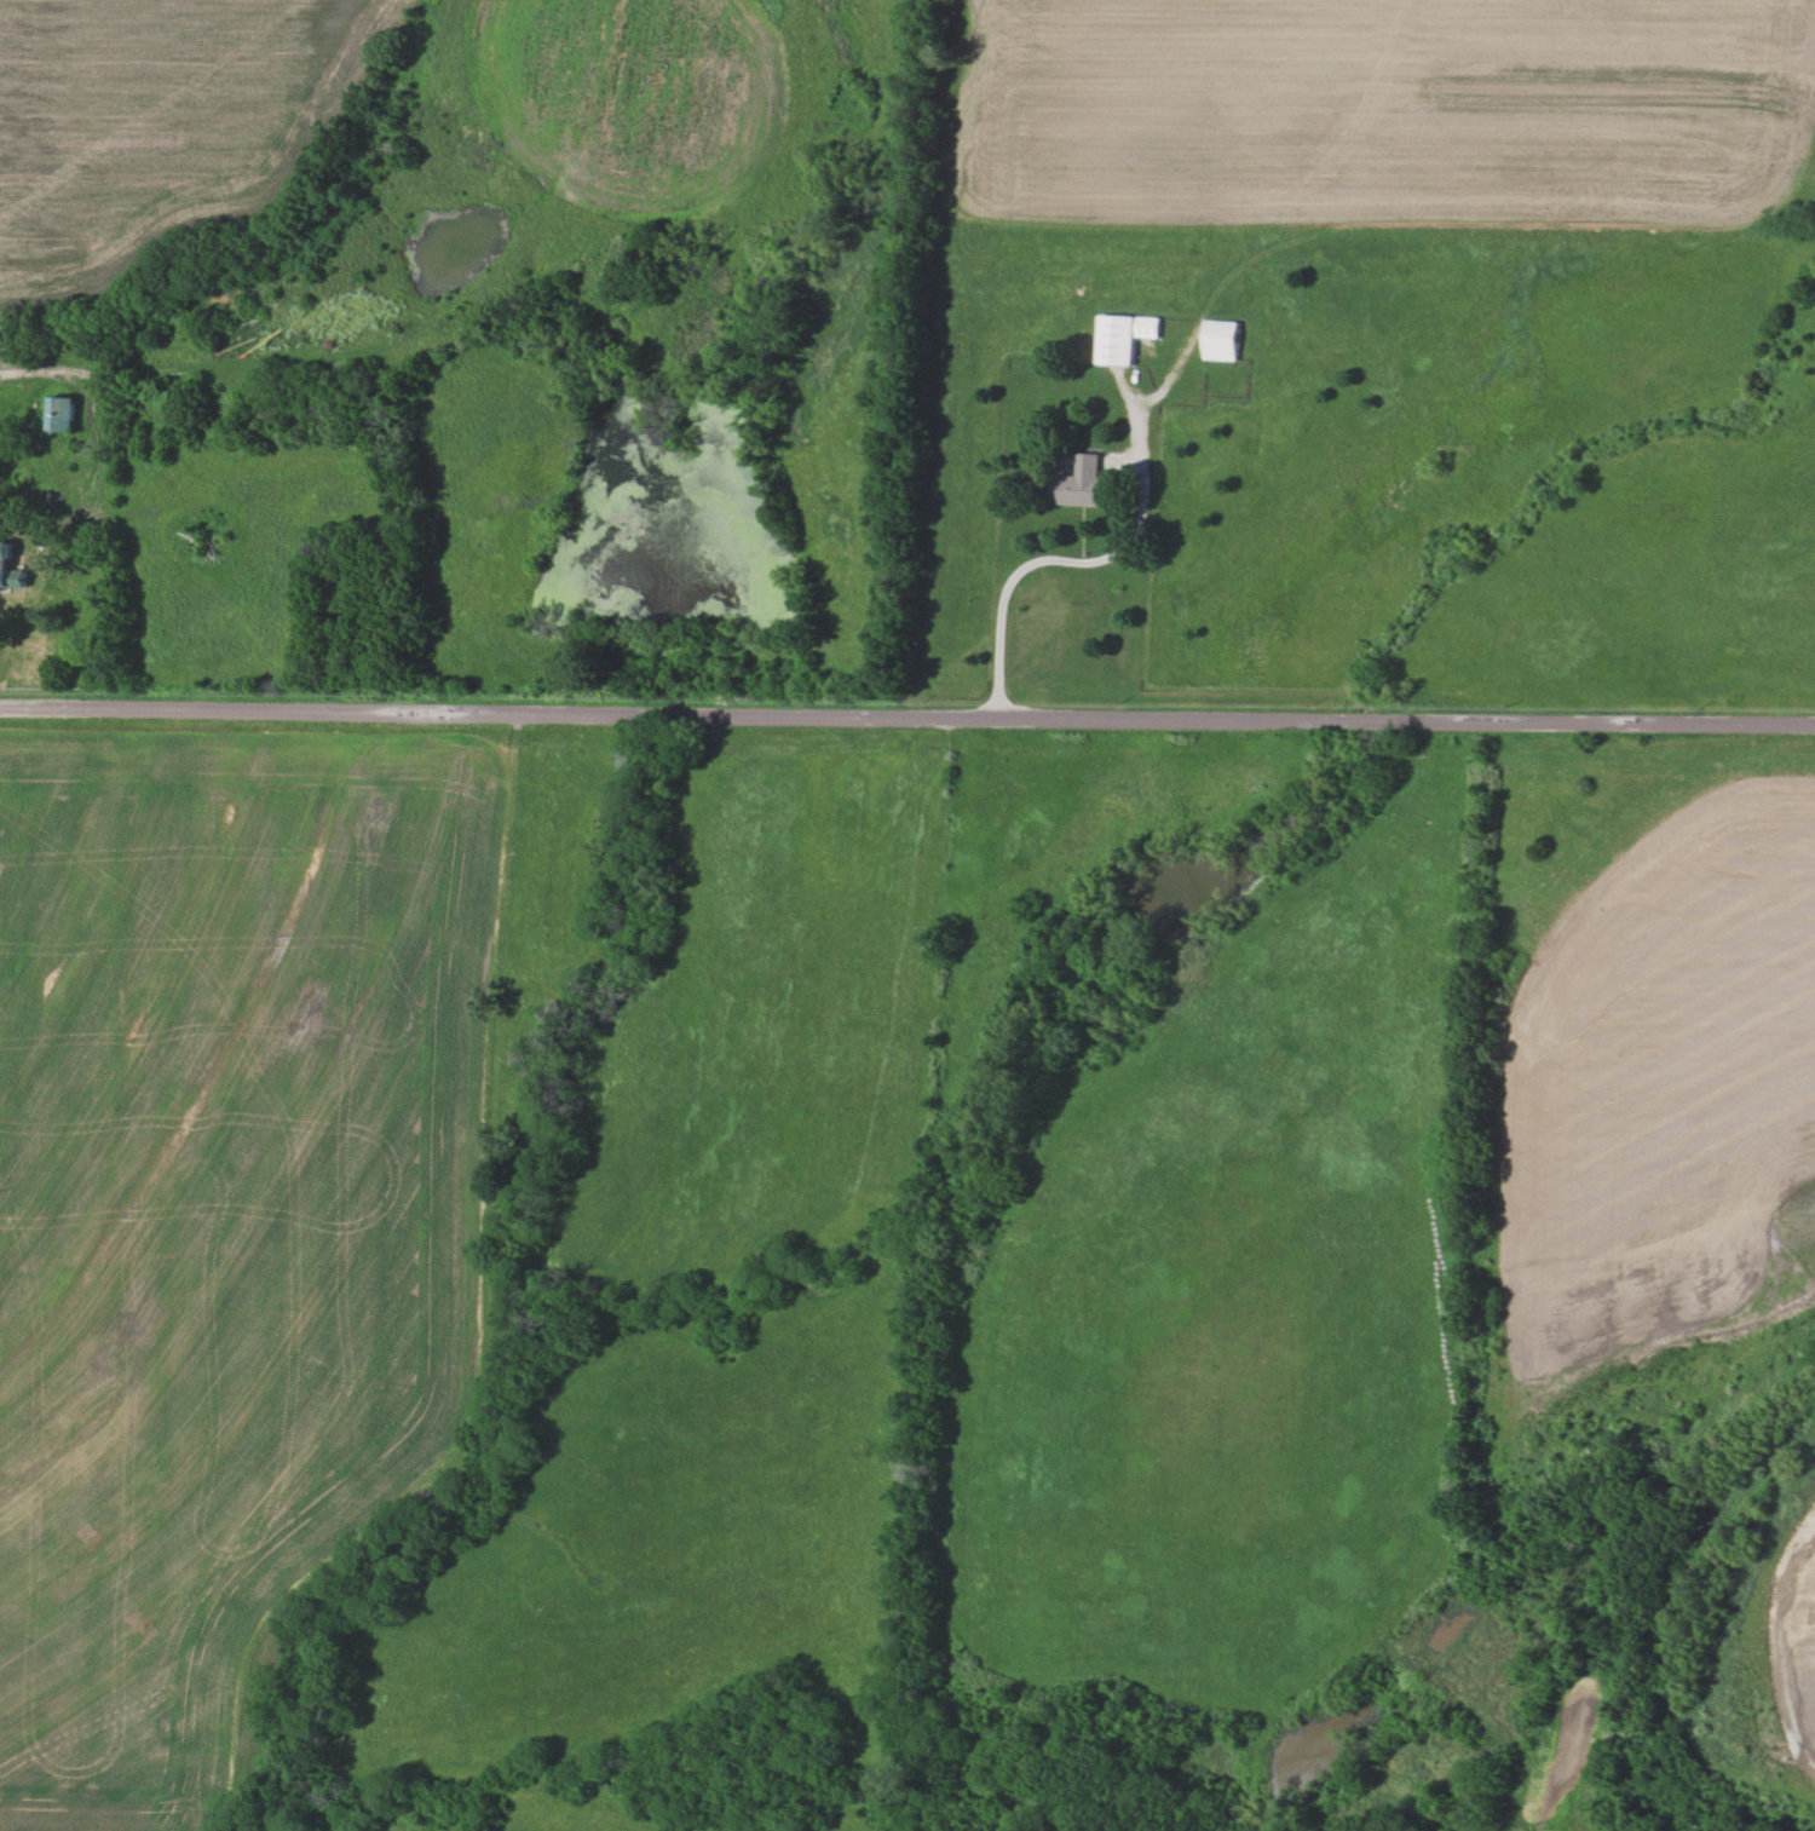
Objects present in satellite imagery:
crop: (152, 113)
road: (1395, 238)
building: (70, 330)
road: (405, 335)
building: (1124, 336)
building: (1222, 340)
silo: (0, 341)
crop: (1408, 347)
building: (62, 413)
building: (156, 442)
road: (25, 455)
road: (1119, 463)
building: (1081, 483)
building: (24, 526)
road: (1090, 563)
building: (1, 564)
building: (370, 620)
road: (906, 721)
crop: (870, 956)
crop: (247, 1187)
crop: (1425, 1288)
crop: (675, 1541)
crop: (855, 1809)
crop: (595, 1815)
crop: (405, 1826)

